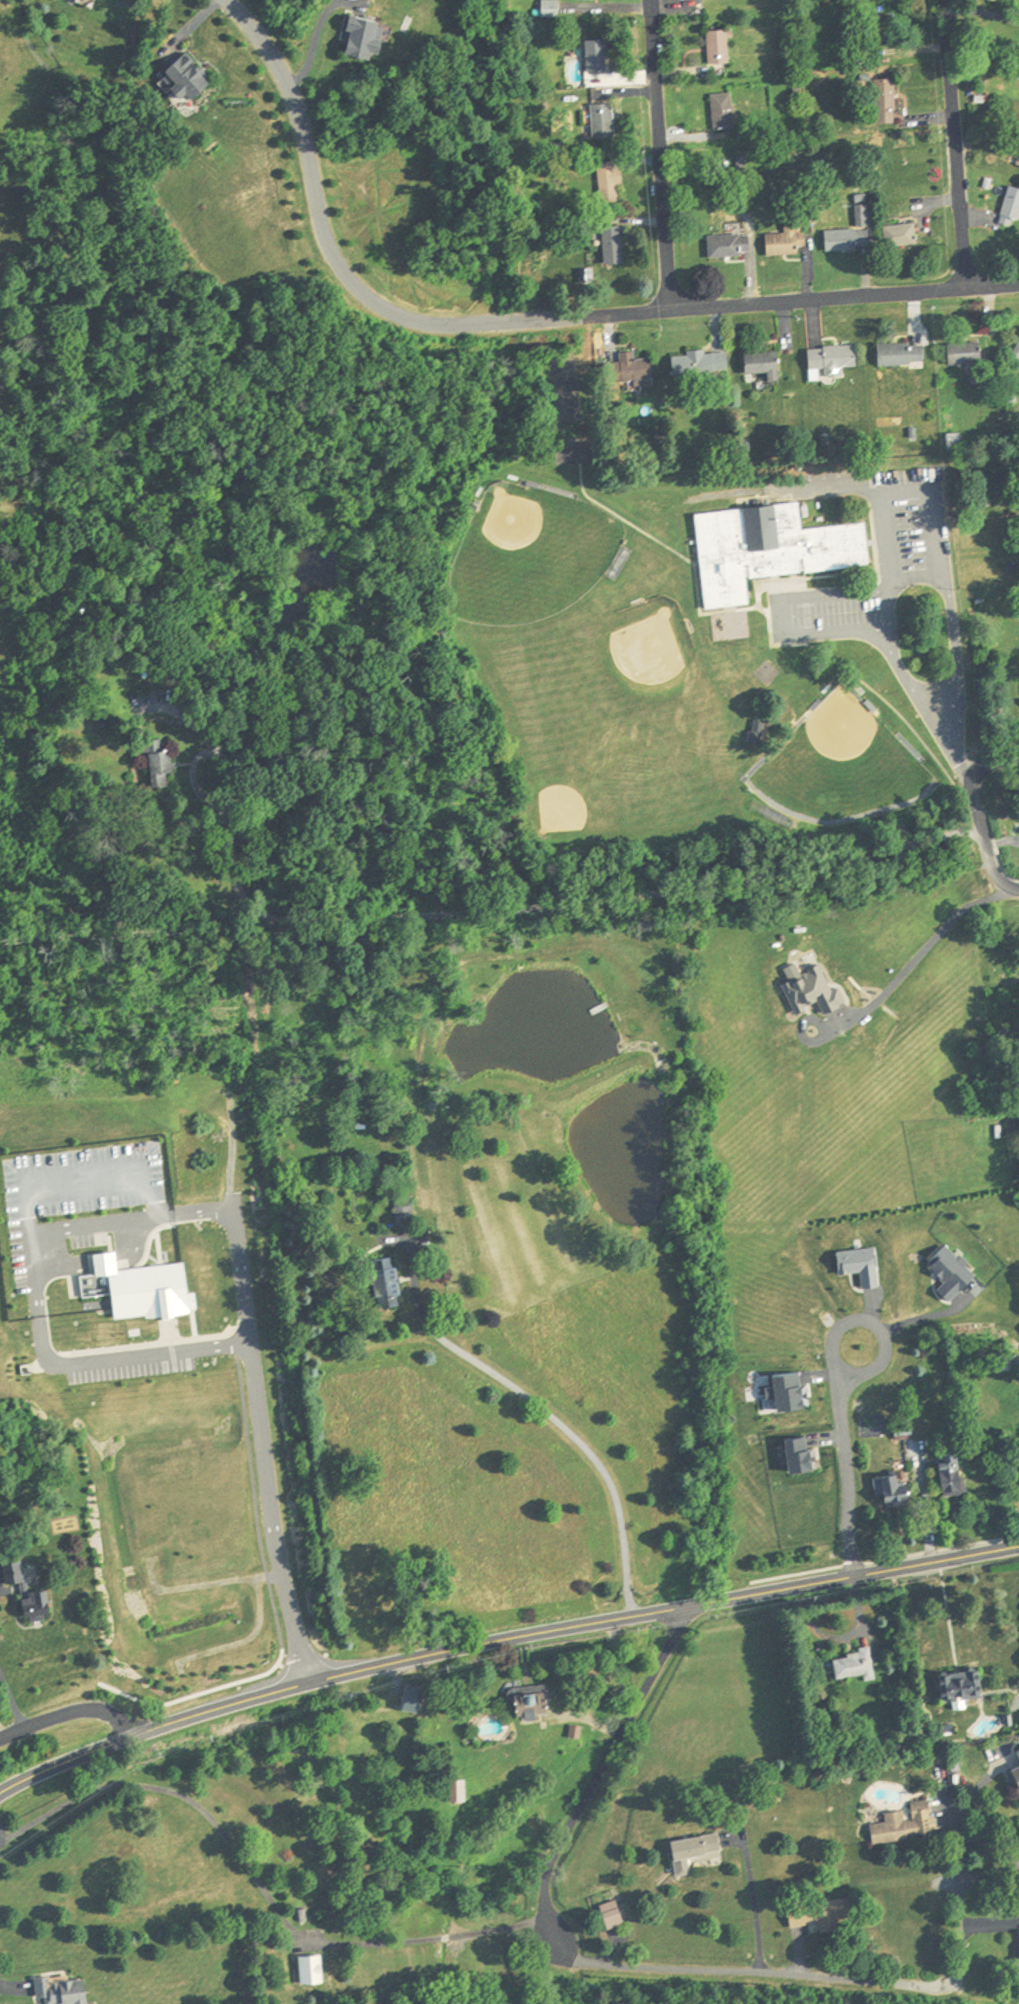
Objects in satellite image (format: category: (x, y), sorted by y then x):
building: (552, 8)
road: (981, 15)
building: (365, 37)
building: (719, 47)
building: (598, 55)
building: (188, 79)
building: (886, 100)
building: (724, 112)
building: (605, 121)
road: (955, 143)
road: (658, 154)
building: (612, 183)
building: (1012, 209)
building: (902, 235)
building: (850, 238)
building: (614, 242)
building: (787, 242)
building: (731, 246)
road: (521, 320)
building: (966, 354)
building: (903, 355)
building: (1017, 356)
building: (834, 360)
building: (701, 364)
building: (764, 364)
building: (637, 369)
building: (954, 442)
road: (850, 488)
park: (528, 547)
building: (770, 550)
road: (891, 562)
road: (889, 611)
road: (816, 636)
road: (954, 642)
park: (656, 666)
building: (988, 666)
park: (628, 672)
building: (756, 738)
park: (832, 756)
road: (970, 780)
road: (228, 796)
road: (989, 872)
road: (492, 913)
road: (909, 964)
building: (406, 1218)
building: (109, 1295)
road: (39, 1300)
road: (548, 1413)
building: (909, 1430)
road: (260, 1448)
road: (844, 1460)
building: (954, 1472)
building: (895, 1489)
road: (1, 1586)
building: (38, 1609)
road: (500, 1640)
building: (856, 1665)
building: (963, 1685)
building: (414, 1698)
building: (531, 1700)
road: (12, 1702)
road: (69, 1715)
road: (1, 1735)
building: (1017, 1770)
building: (459, 1791)
road: (957, 1817)
building: (906, 1824)
road: (5, 1841)
building: (694, 1850)
road: (259, 1885)
road: (755, 1905)
building: (821, 1914)
building: (613, 1915)
building: (311, 1969)
road: (604, 1972)
road: (8, 1988)
building: (63, 1990)

